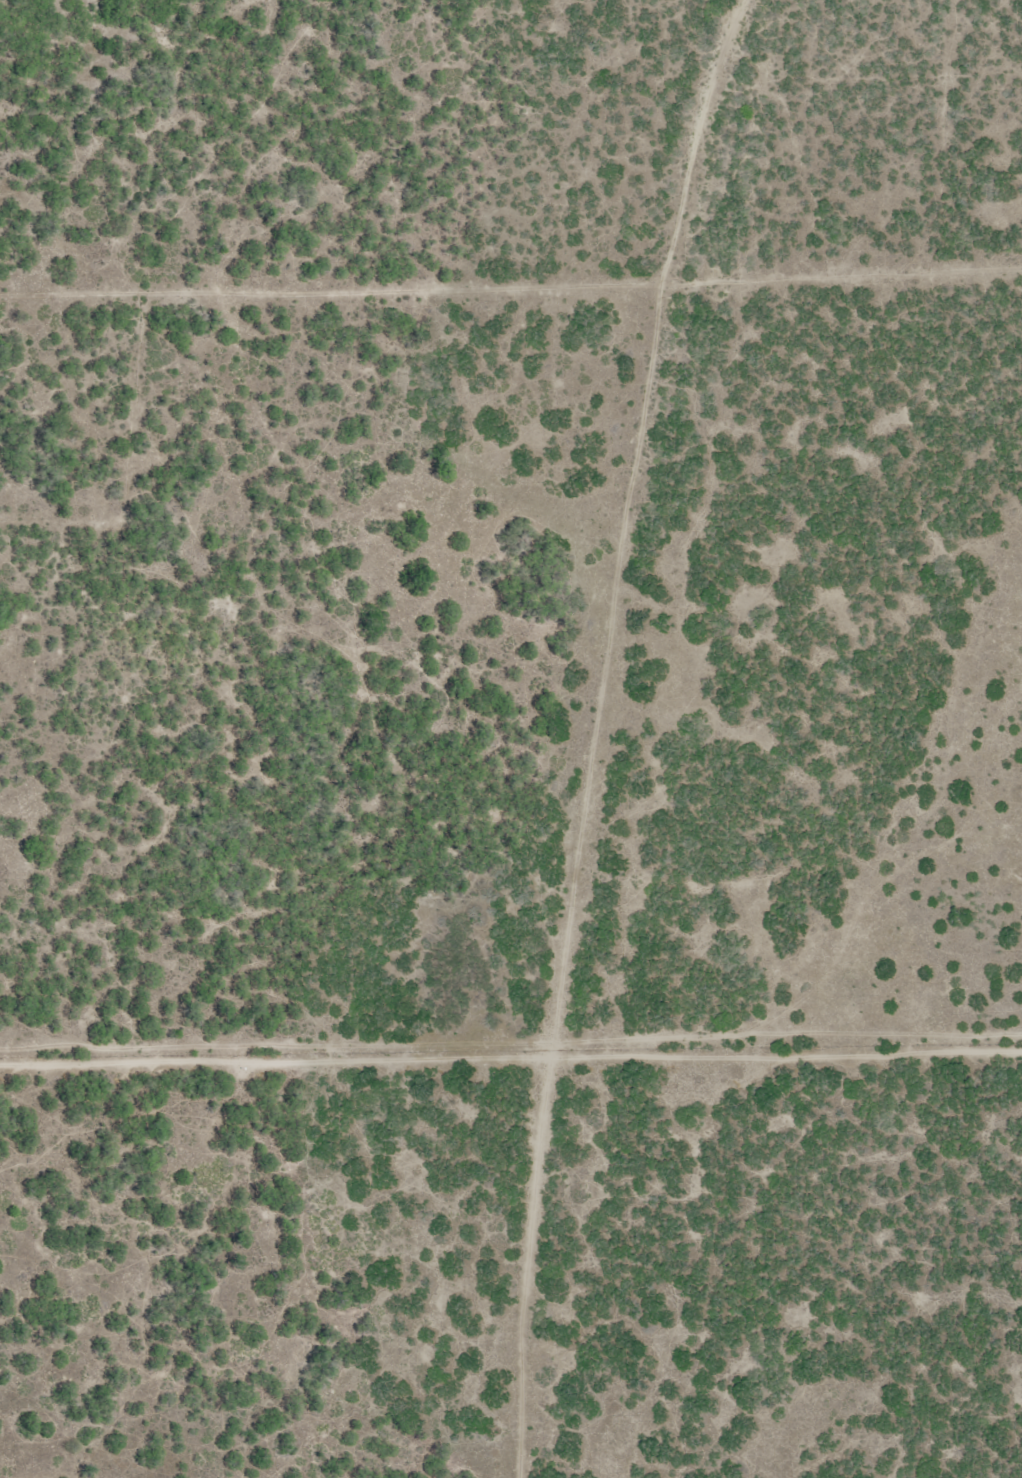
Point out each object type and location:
road: (112, 1362)

